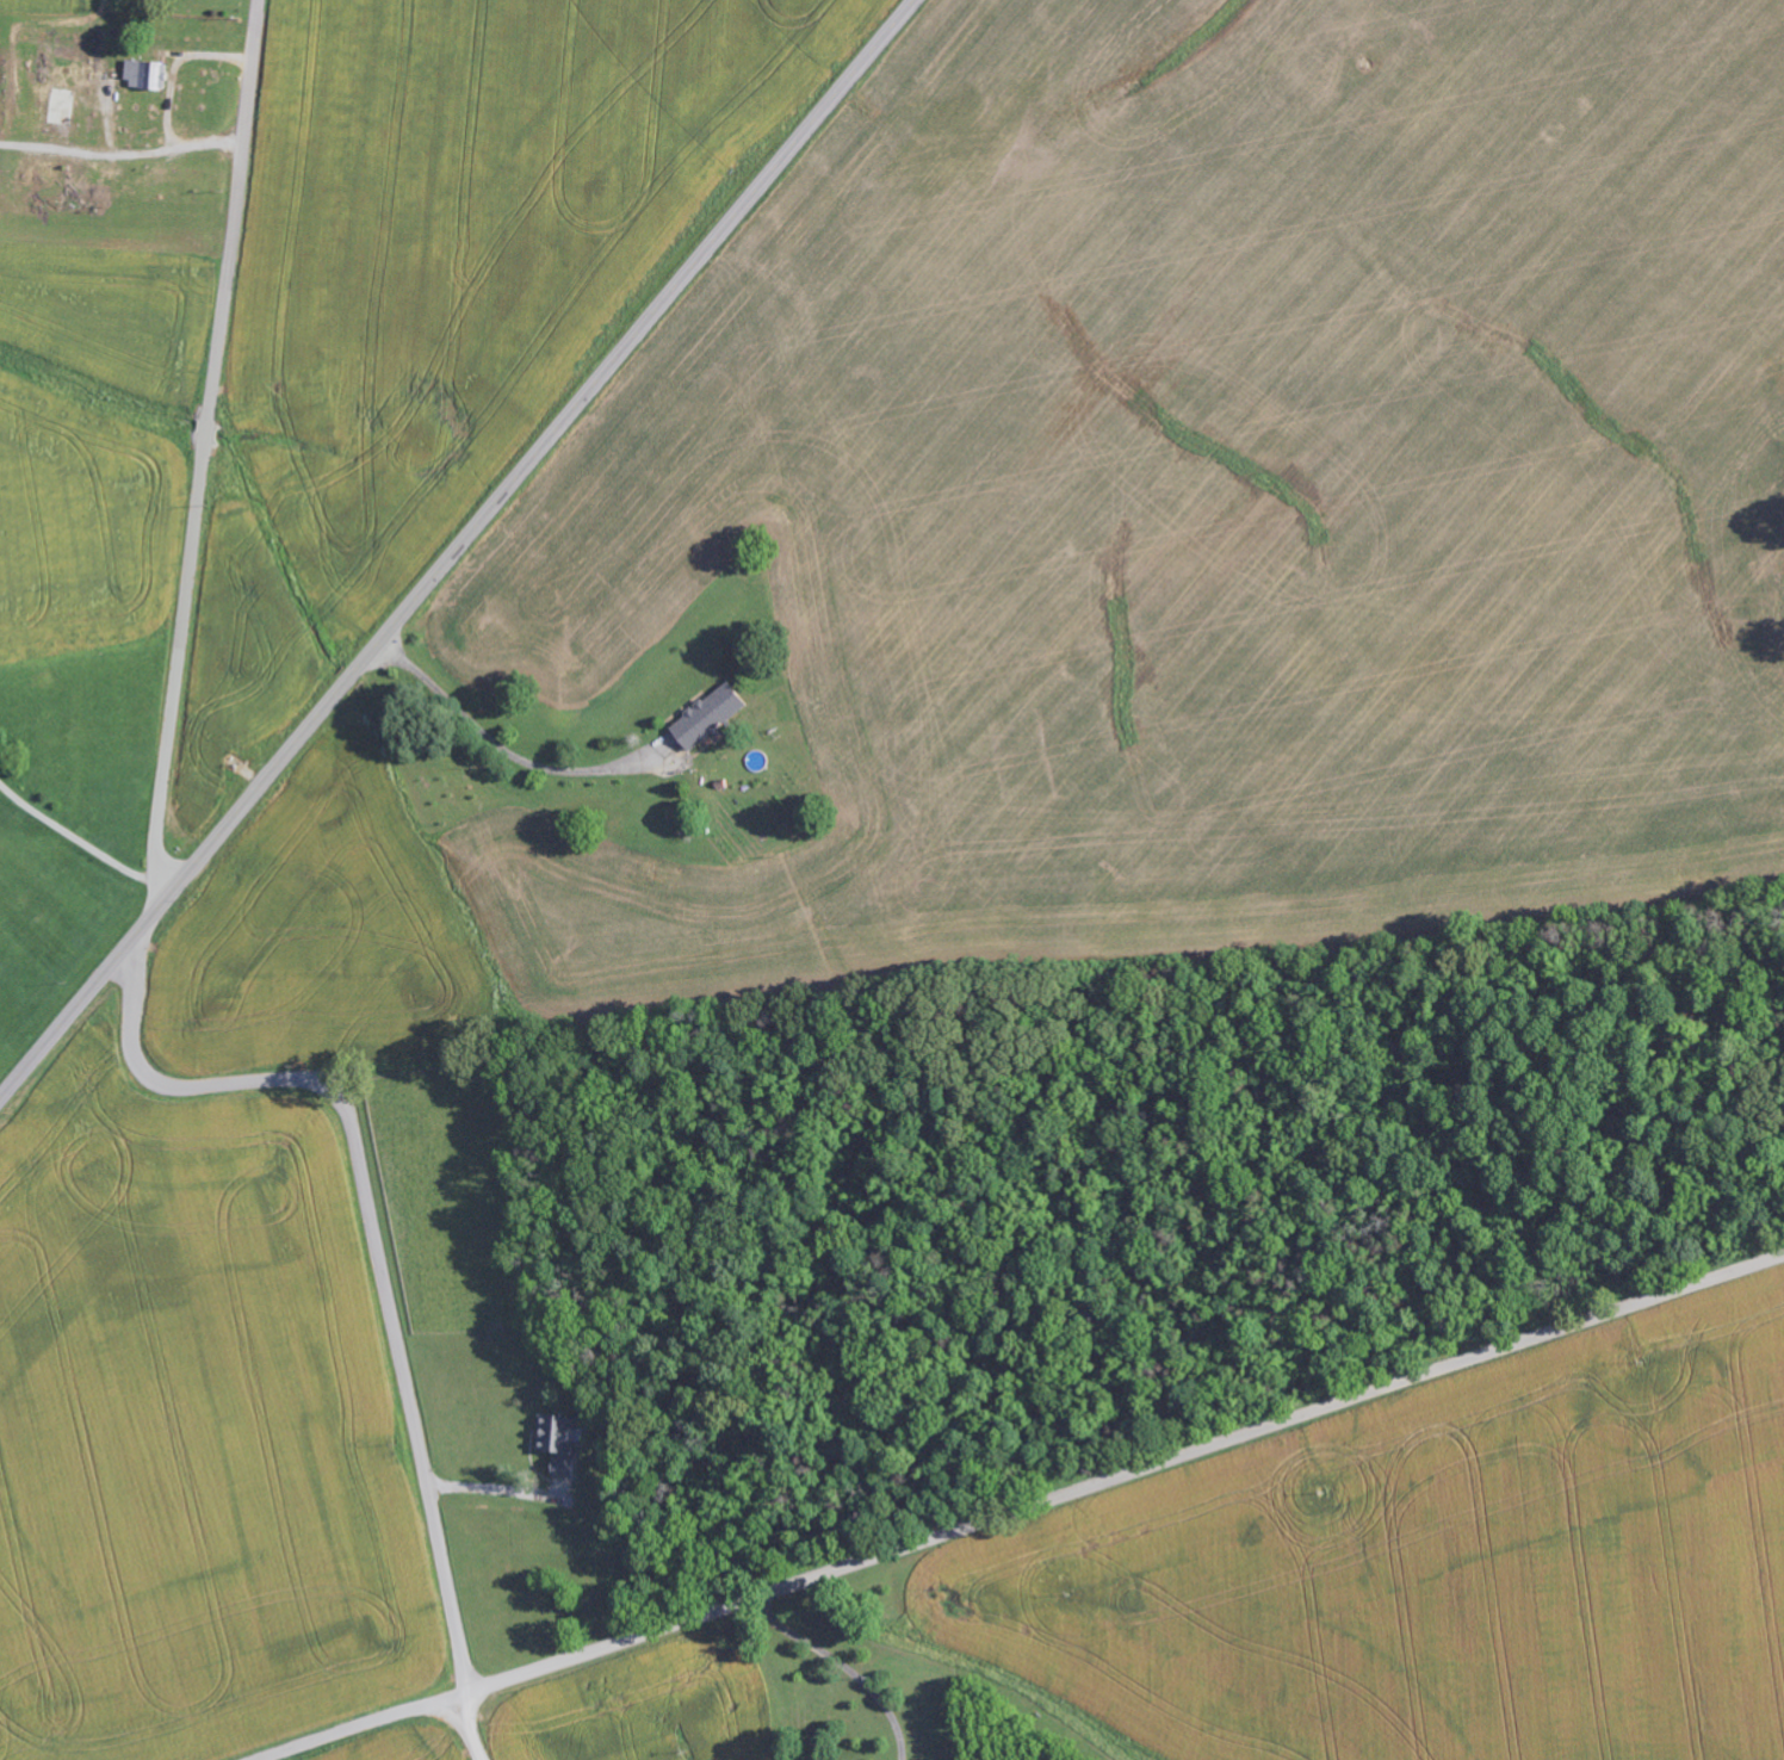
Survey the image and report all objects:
building: (149, 78)
road: (203, 447)
road: (457, 549)
building: (712, 717)
road: (379, 1253)
building: (560, 1444)
road: (1028, 1512)

